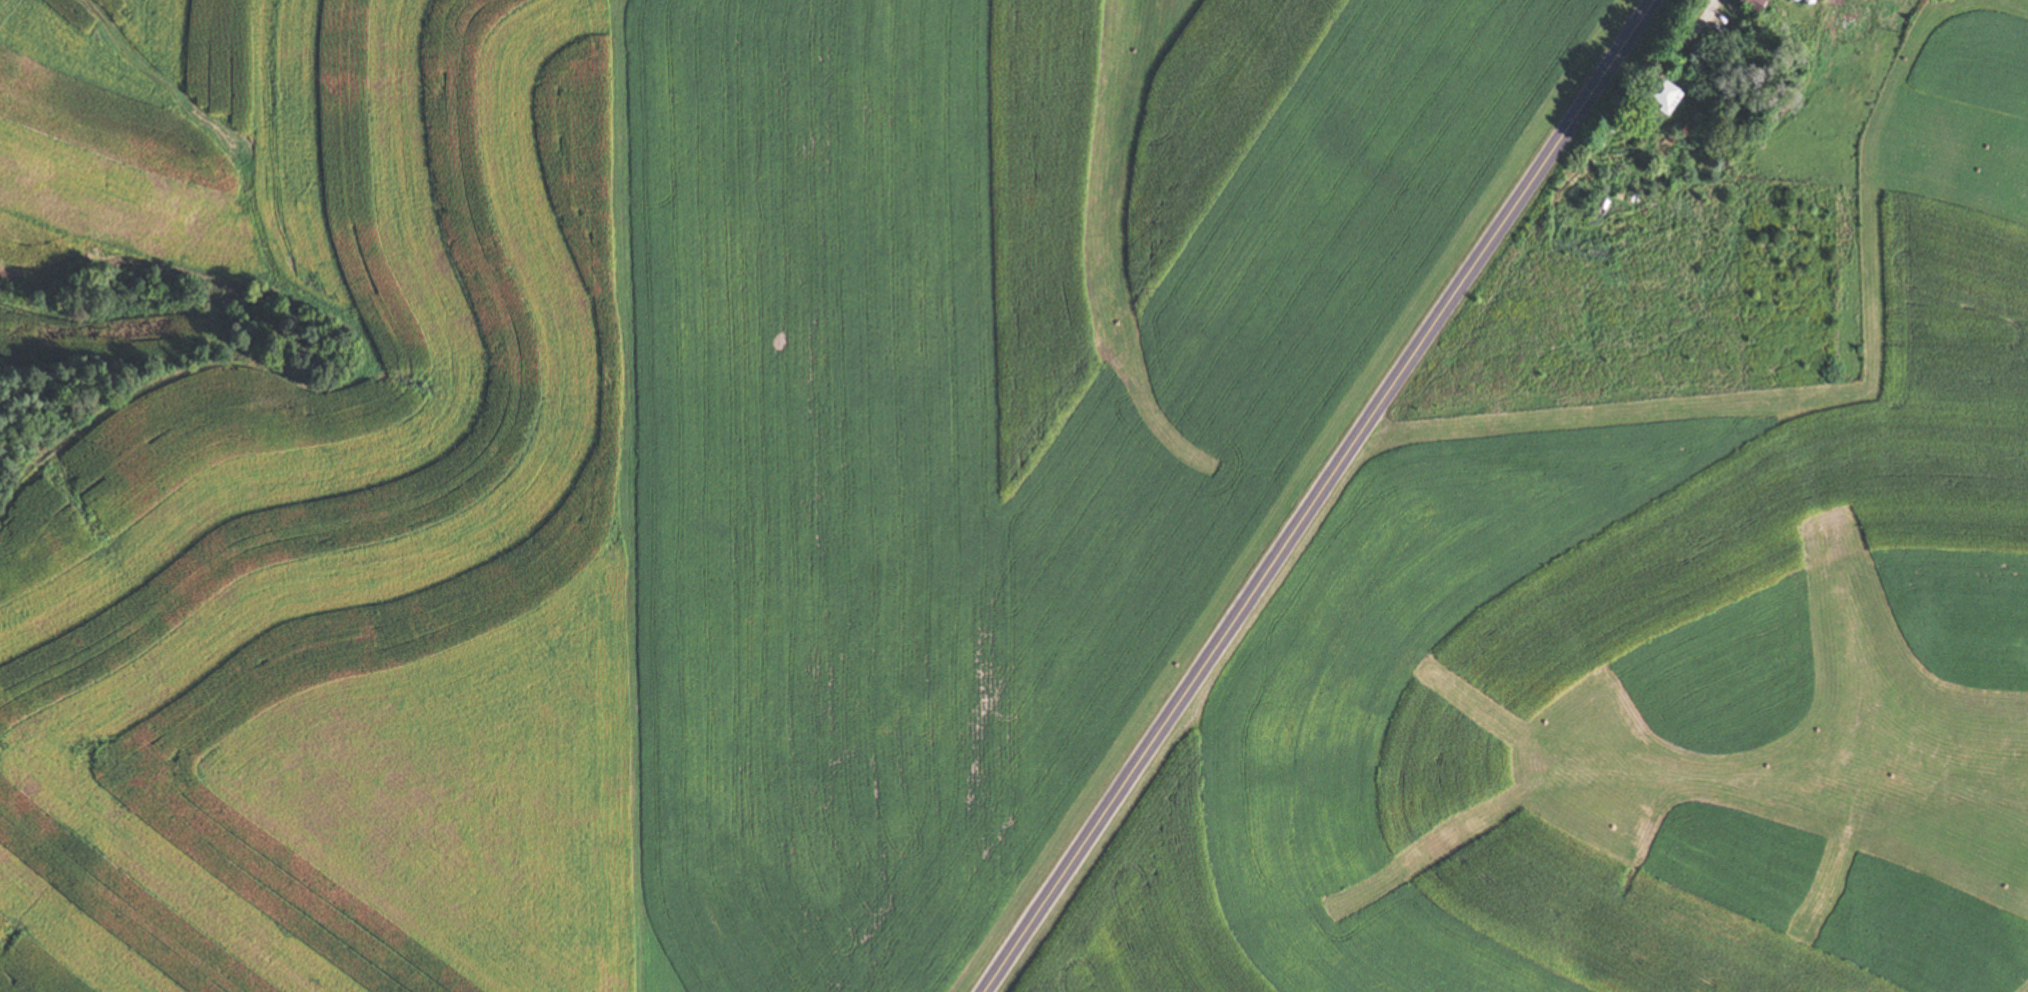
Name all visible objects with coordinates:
building: (1756, 4)
building: (1659, 95)
crop: (131, 133)
crop: (87, 332)
crop: (1005, 393)
crop: (347, 396)
road: (1315, 496)
crop: (1627, 615)
crop: (463, 793)
crop: (170, 891)

